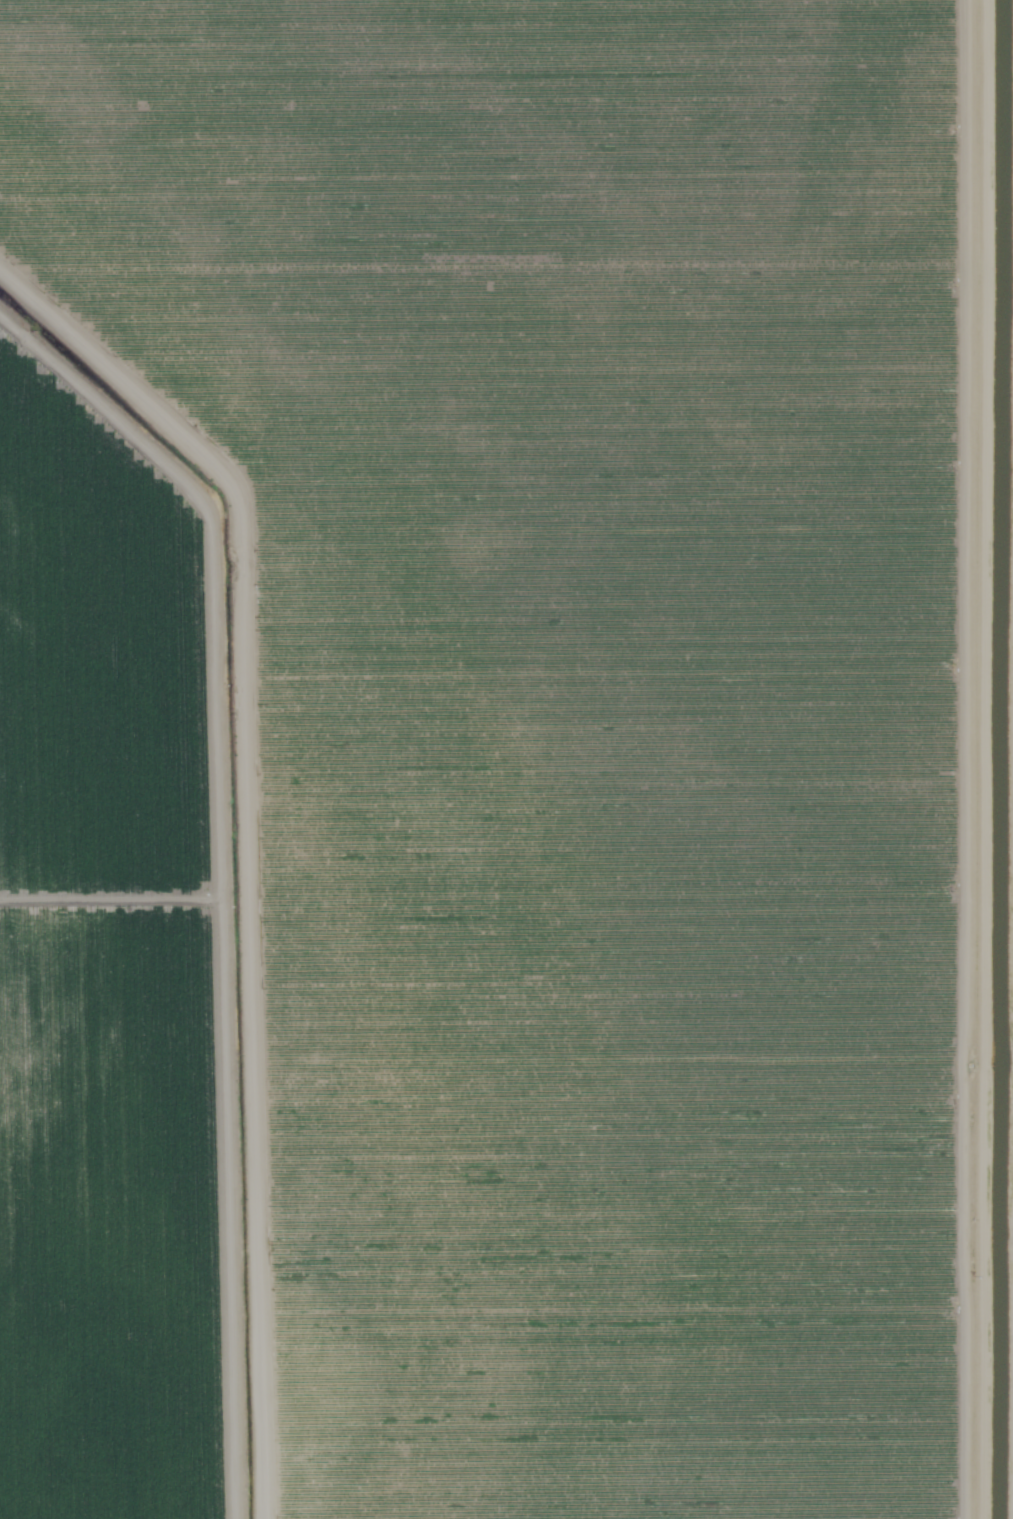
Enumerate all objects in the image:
crop: (598, 709)
crop: (109, 973)

